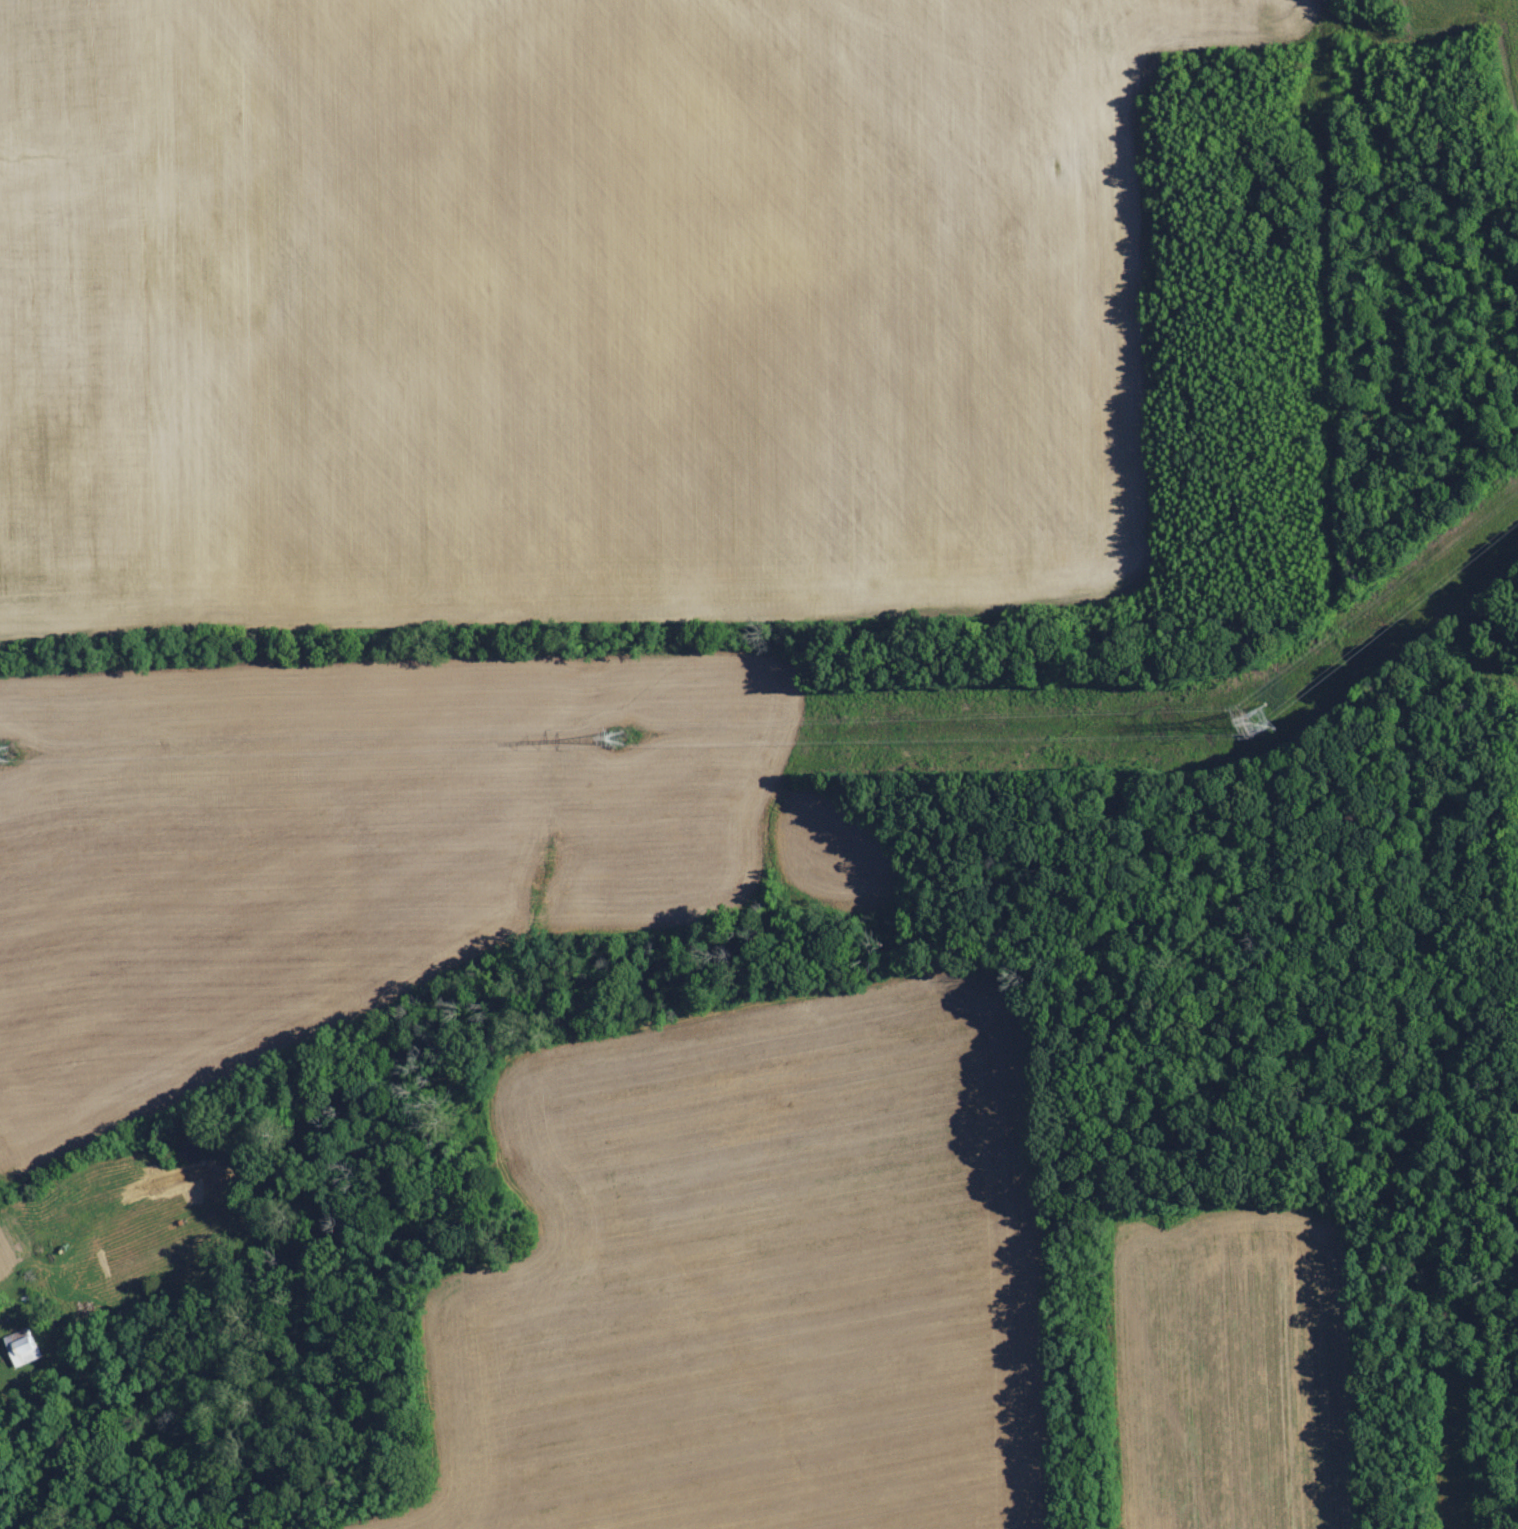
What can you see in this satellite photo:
power tower: (1258, 723)
power tower: (615, 739)
building: (20, 1346)

